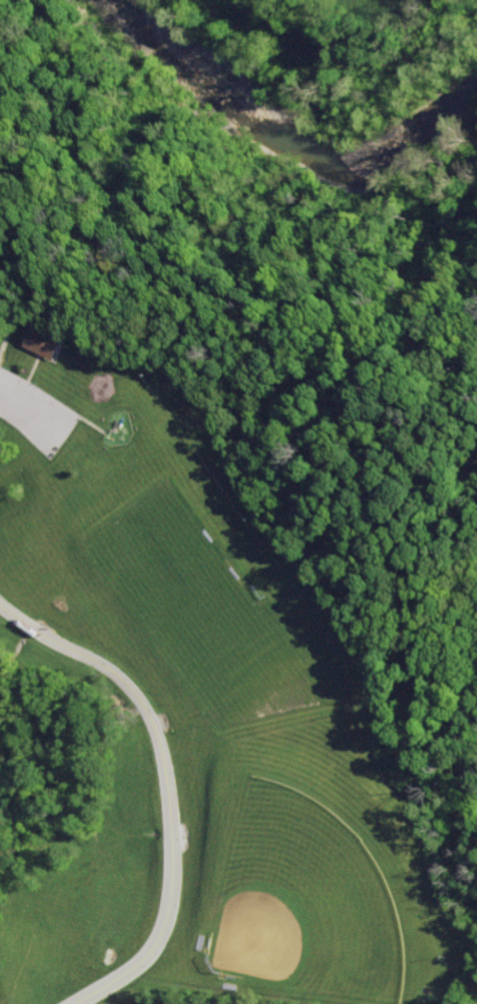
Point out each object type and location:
road: (284, 311)
road: (13, 317)
building: (43, 341)
road: (27, 409)
parking lot: (35, 413)
road: (94, 423)
park: (225, 550)
road: (165, 787)
road: (463, 839)
park: (299, 902)
road: (459, 975)

